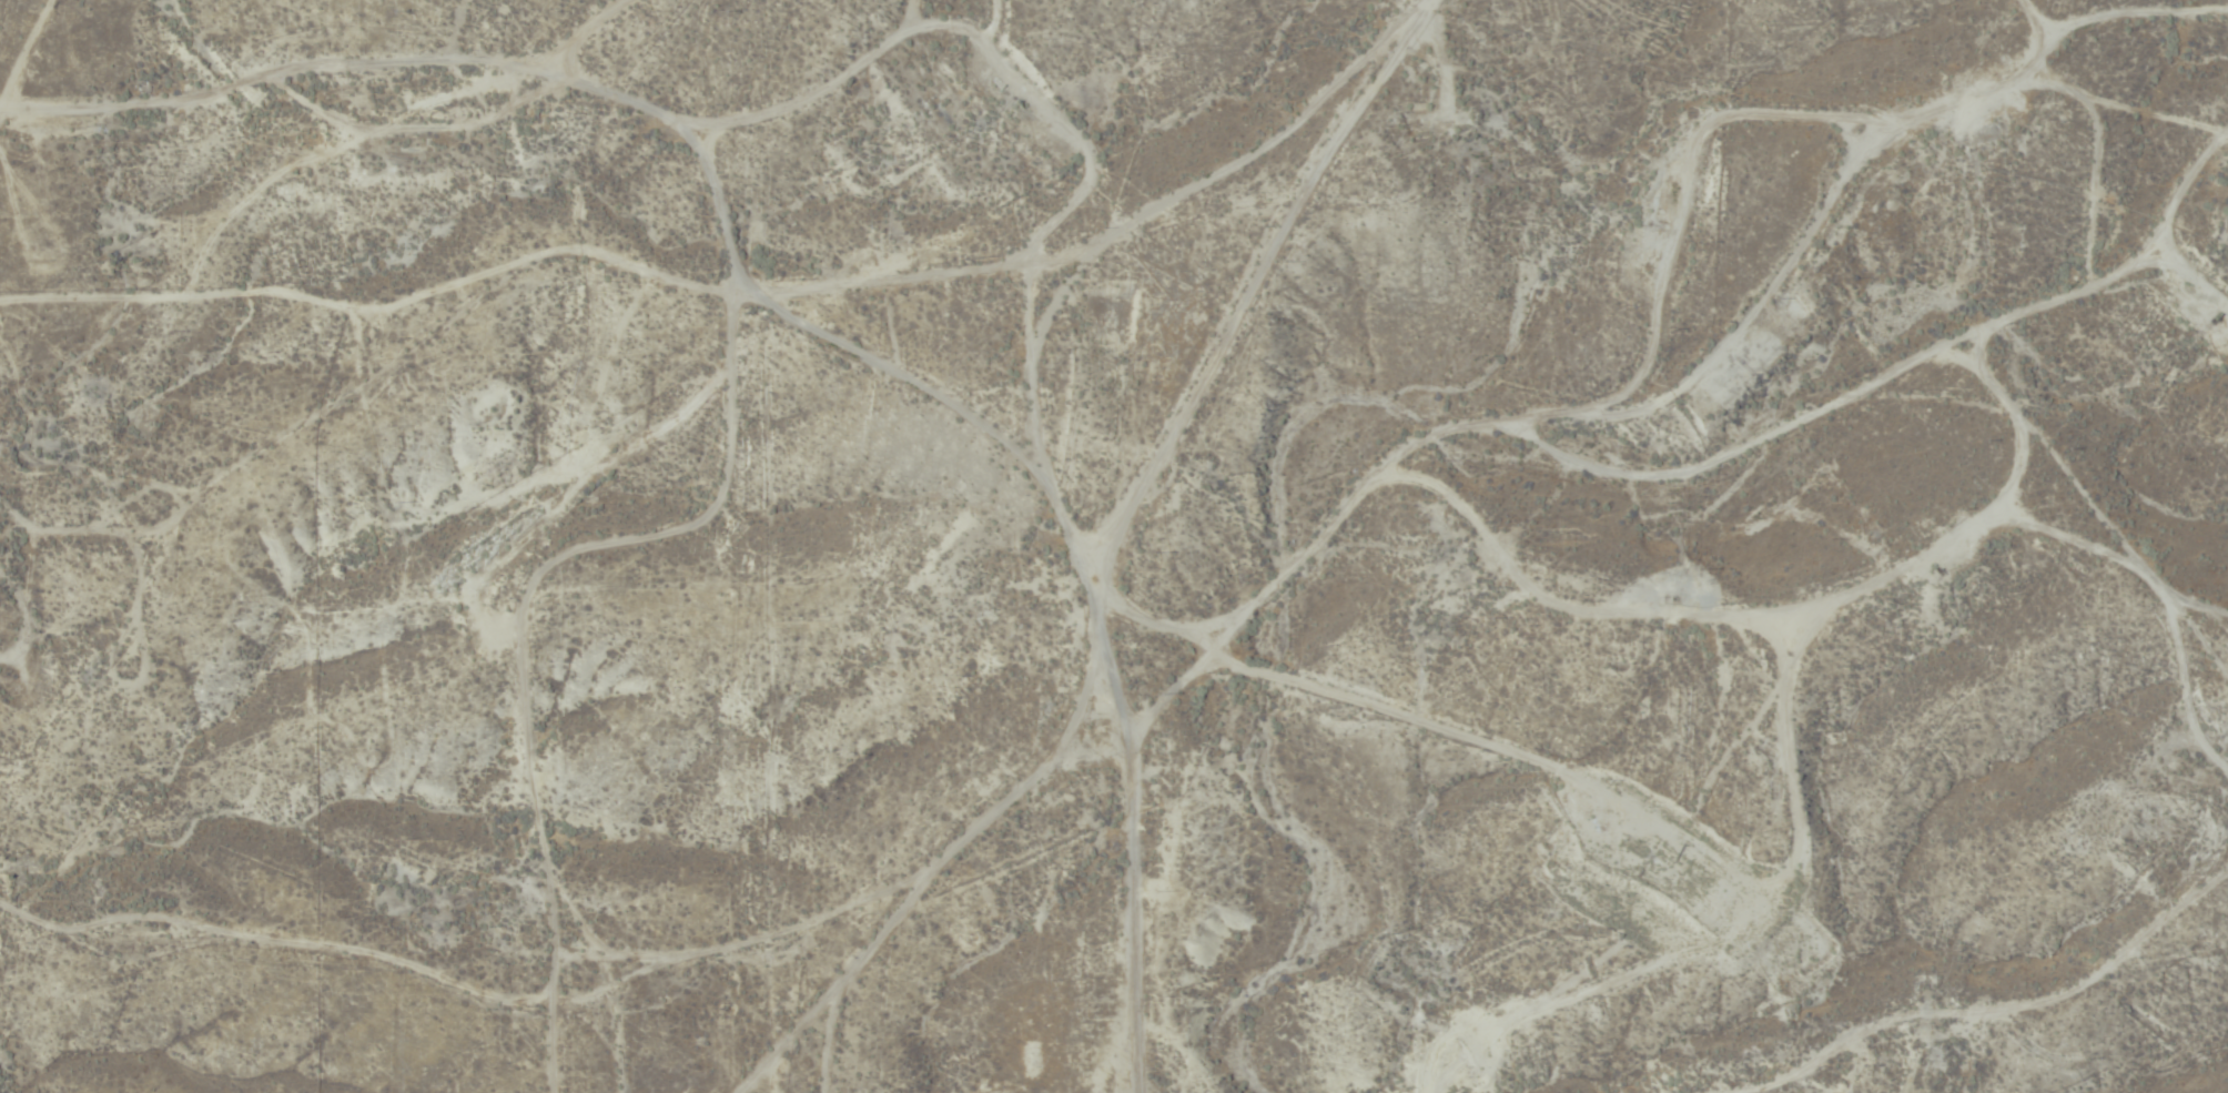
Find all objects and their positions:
road: (723, 524)
road: (1077, 658)

